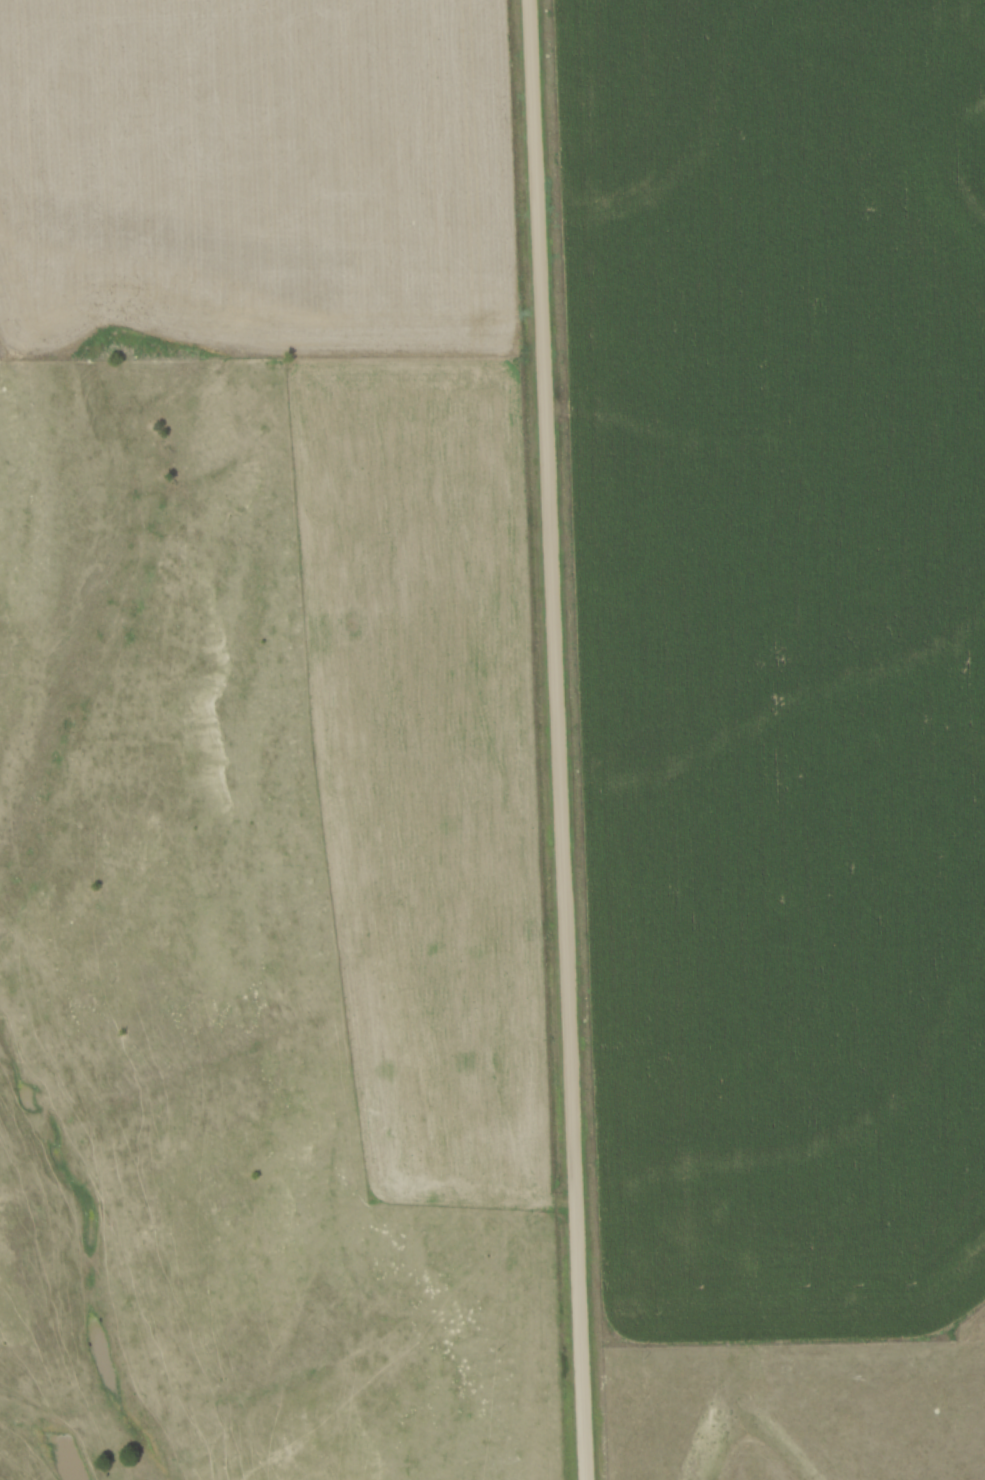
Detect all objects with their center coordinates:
road: (558, 739)

